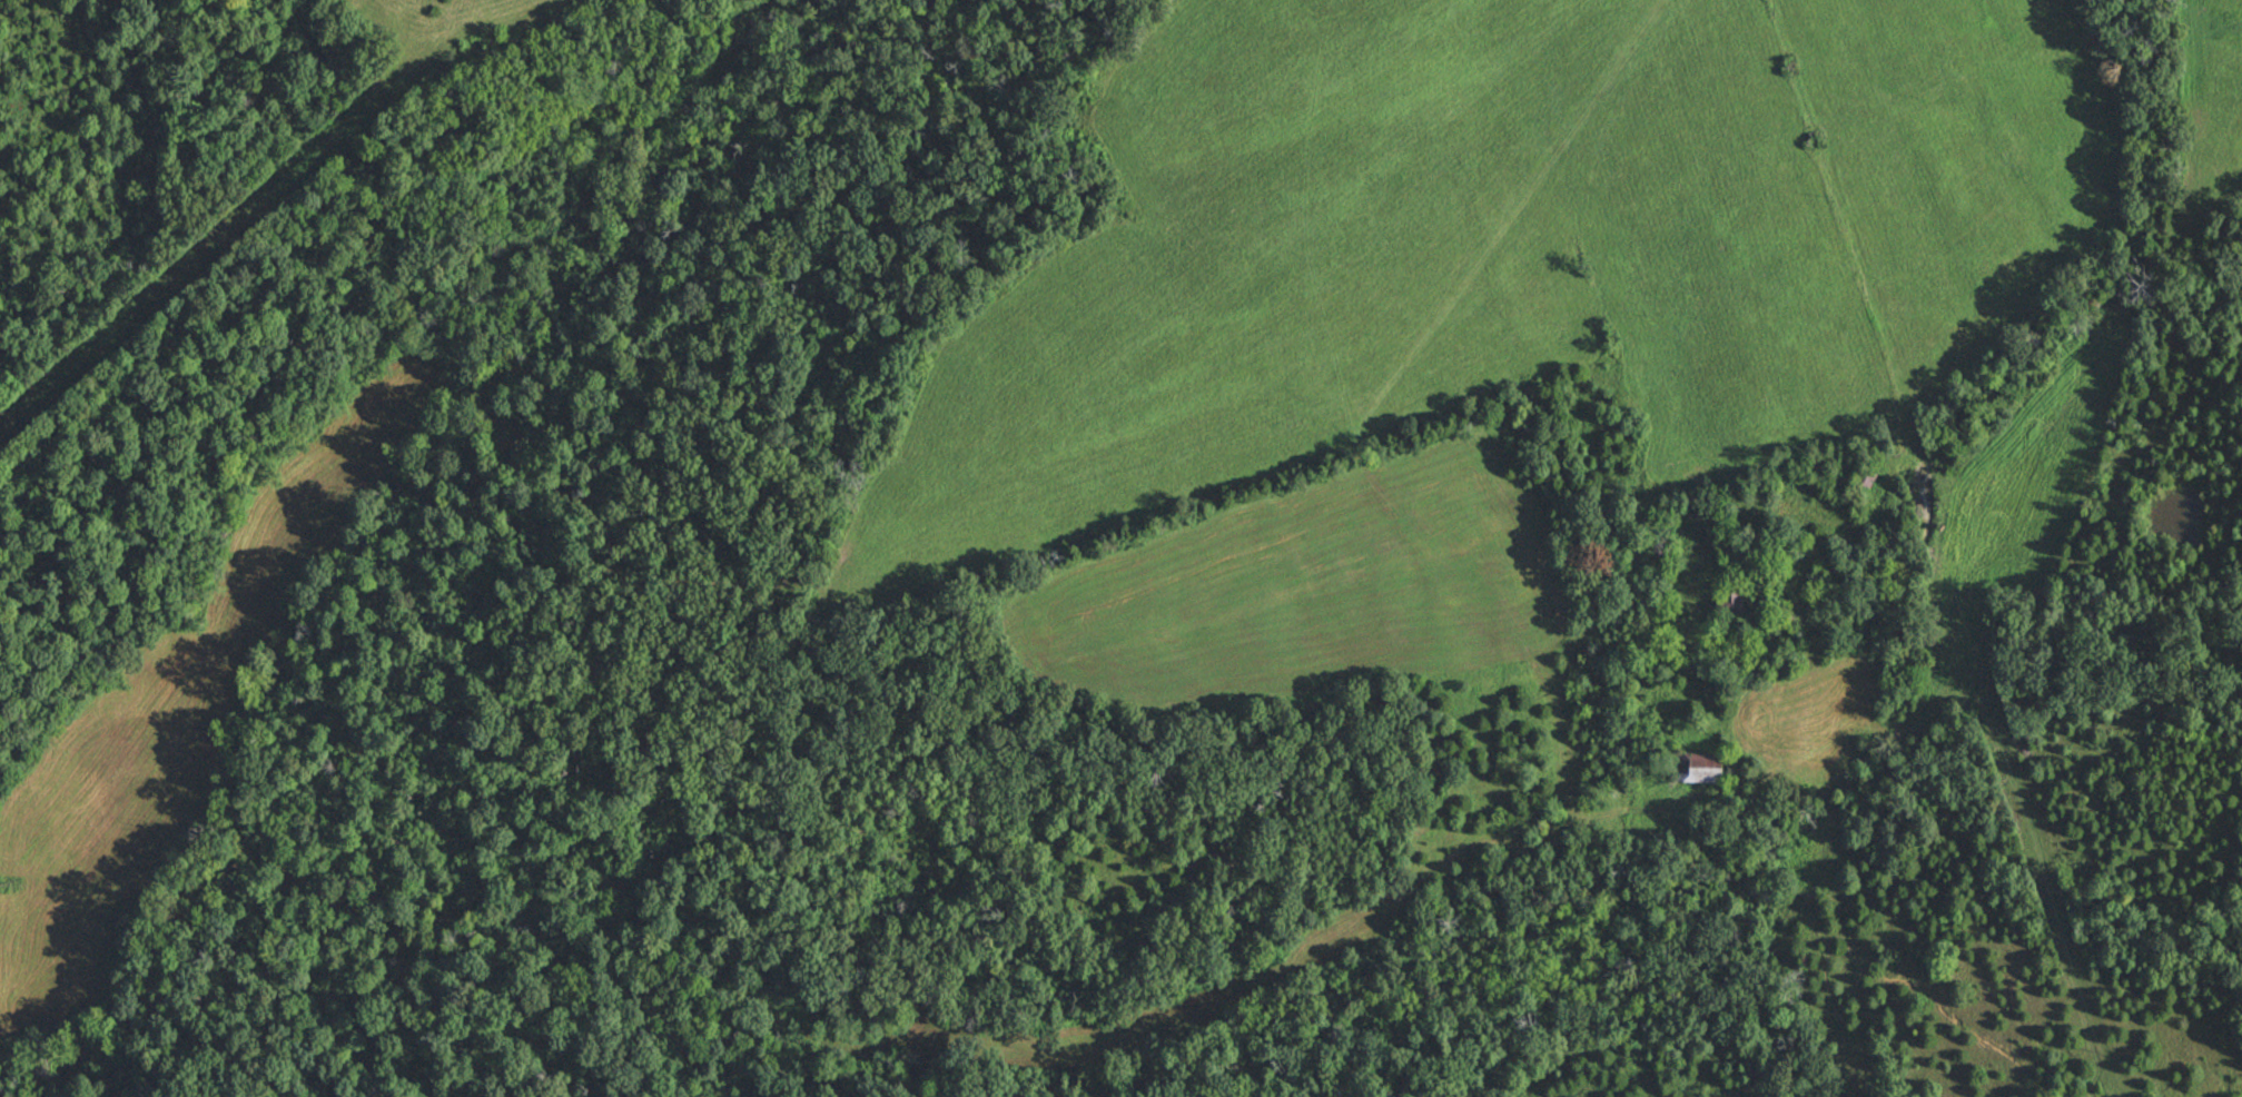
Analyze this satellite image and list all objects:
building: (1701, 767)

